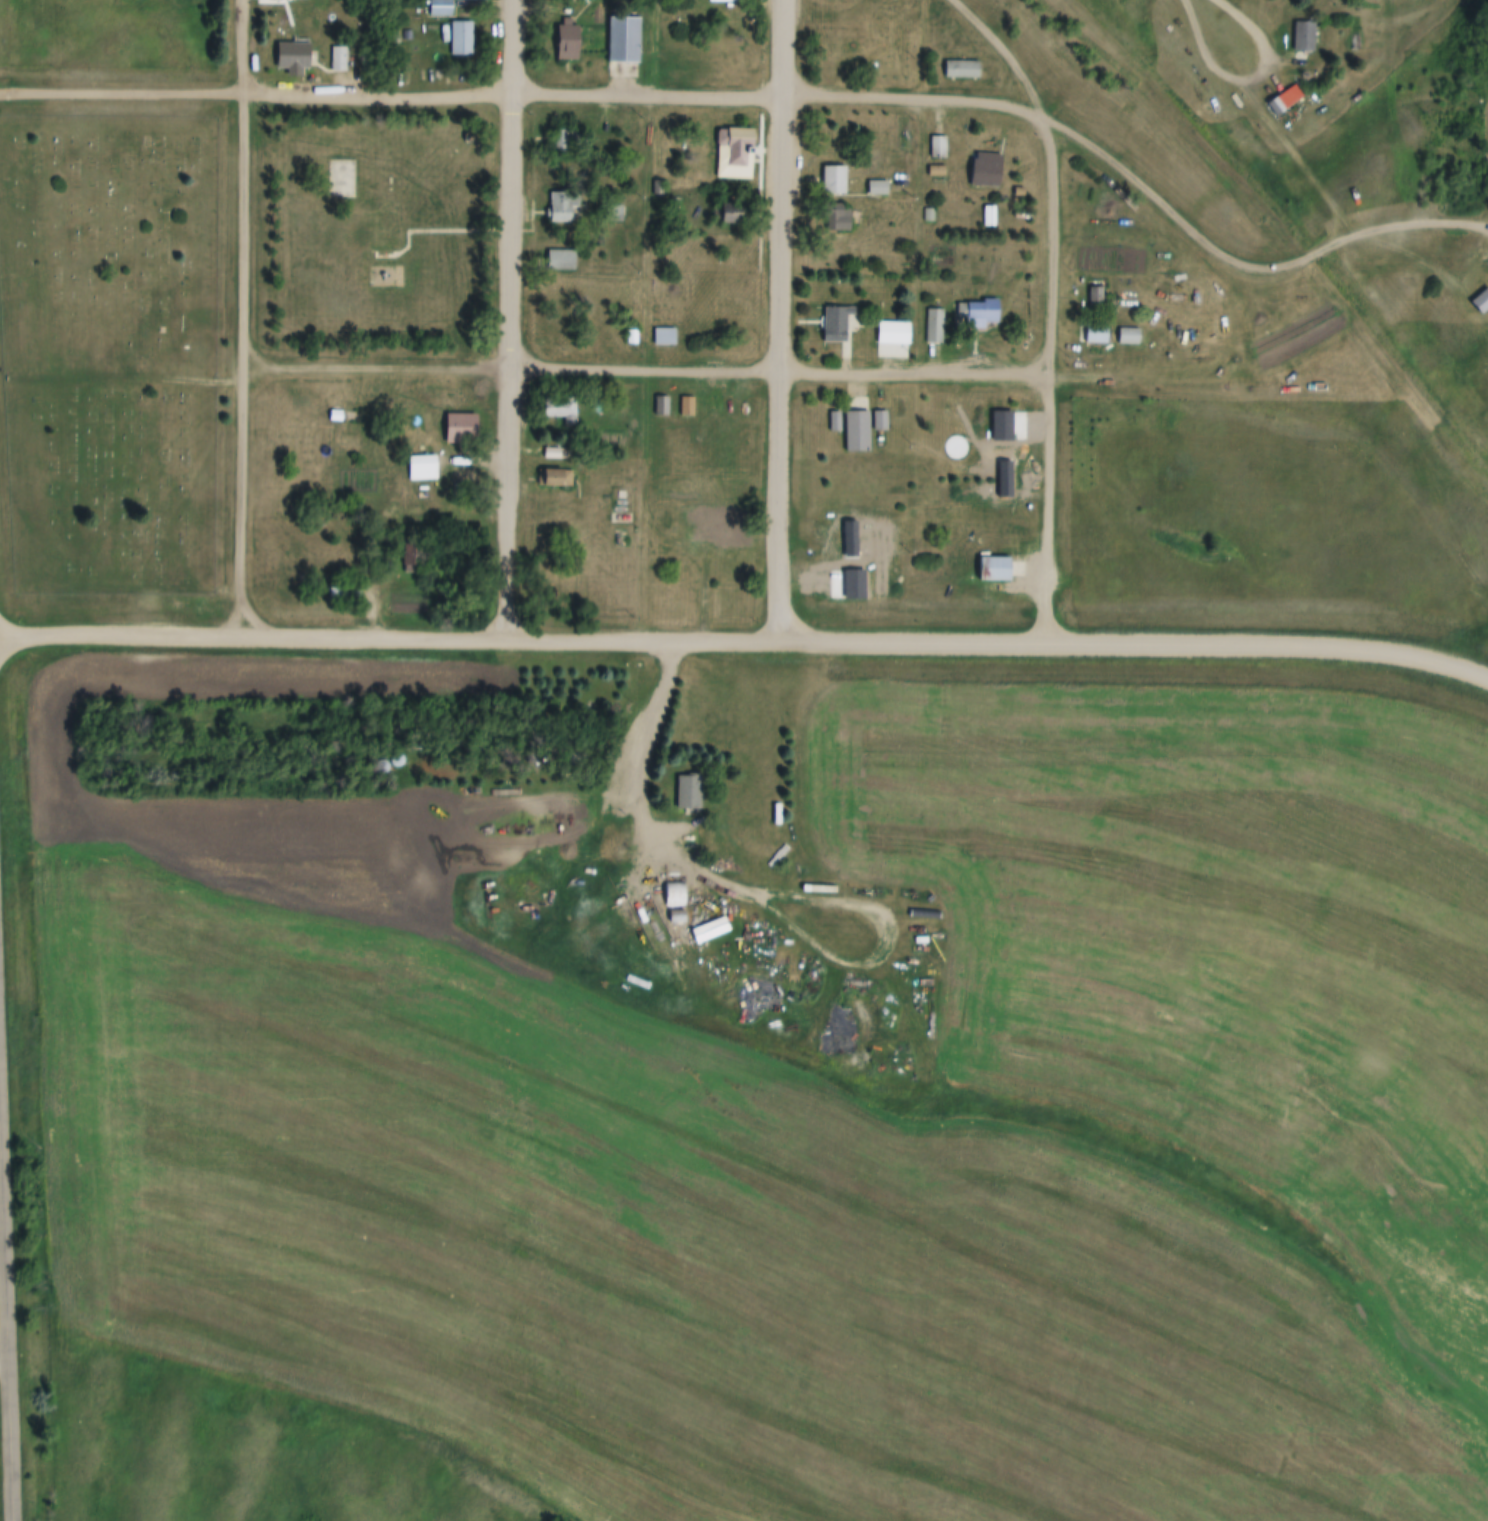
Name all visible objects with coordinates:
building: (732, 1)
building: (440, 8)
building: (1307, 37)
building: (462, 39)
building: (623, 39)
building: (567, 41)
road: (1005, 54)
building: (295, 56)
building: (339, 60)
building: (367, 60)
building: (961, 70)
road: (1244, 78)
road: (1006, 86)
road: (522, 97)
building: (1282, 104)
building: (561, 140)
building: (738, 144)
building: (939, 147)
building: (987, 170)
building: (937, 171)
park: (340, 180)
building: (835, 181)
building: (659, 187)
building: (878, 188)
building: (1020, 192)
building: (563, 206)
building: (615, 213)
building: (731, 213)
building: (929, 215)
building: (991, 215)
building: (832, 217)
building: (1010, 218)
railway: (1299, 230)
park: (382, 232)
building: (562, 260)
road: (1244, 269)
building: (1098, 297)
building: (979, 313)
road: (243, 318)
road: (507, 319)
road: (781, 320)
building: (836, 323)
building: (567, 326)
building: (934, 326)
building: (890, 334)
building: (1098, 334)
building: (665, 336)
building: (632, 337)
road: (375, 368)
road: (777, 371)
road: (121, 378)
road: (1047, 381)
building: (301, 401)
building: (662, 406)
building: (562, 412)
building: (881, 420)
building: (462, 429)
building: (858, 431)
building: (552, 453)
building: (428, 464)
building: (555, 478)
building: (619, 518)
building: (338, 534)
building: (730, 535)
building: (414, 559)
building: (996, 569)
building: (345, 593)
road: (745, 641)
building: (689, 791)
building: (675, 895)
road: (763, 895)
building: (671, 916)
silo: (671, 916)
building: (649, 926)
building: (710, 930)
road: (0, 1203)
road: (6, 1347)
road: (3, 1367)

